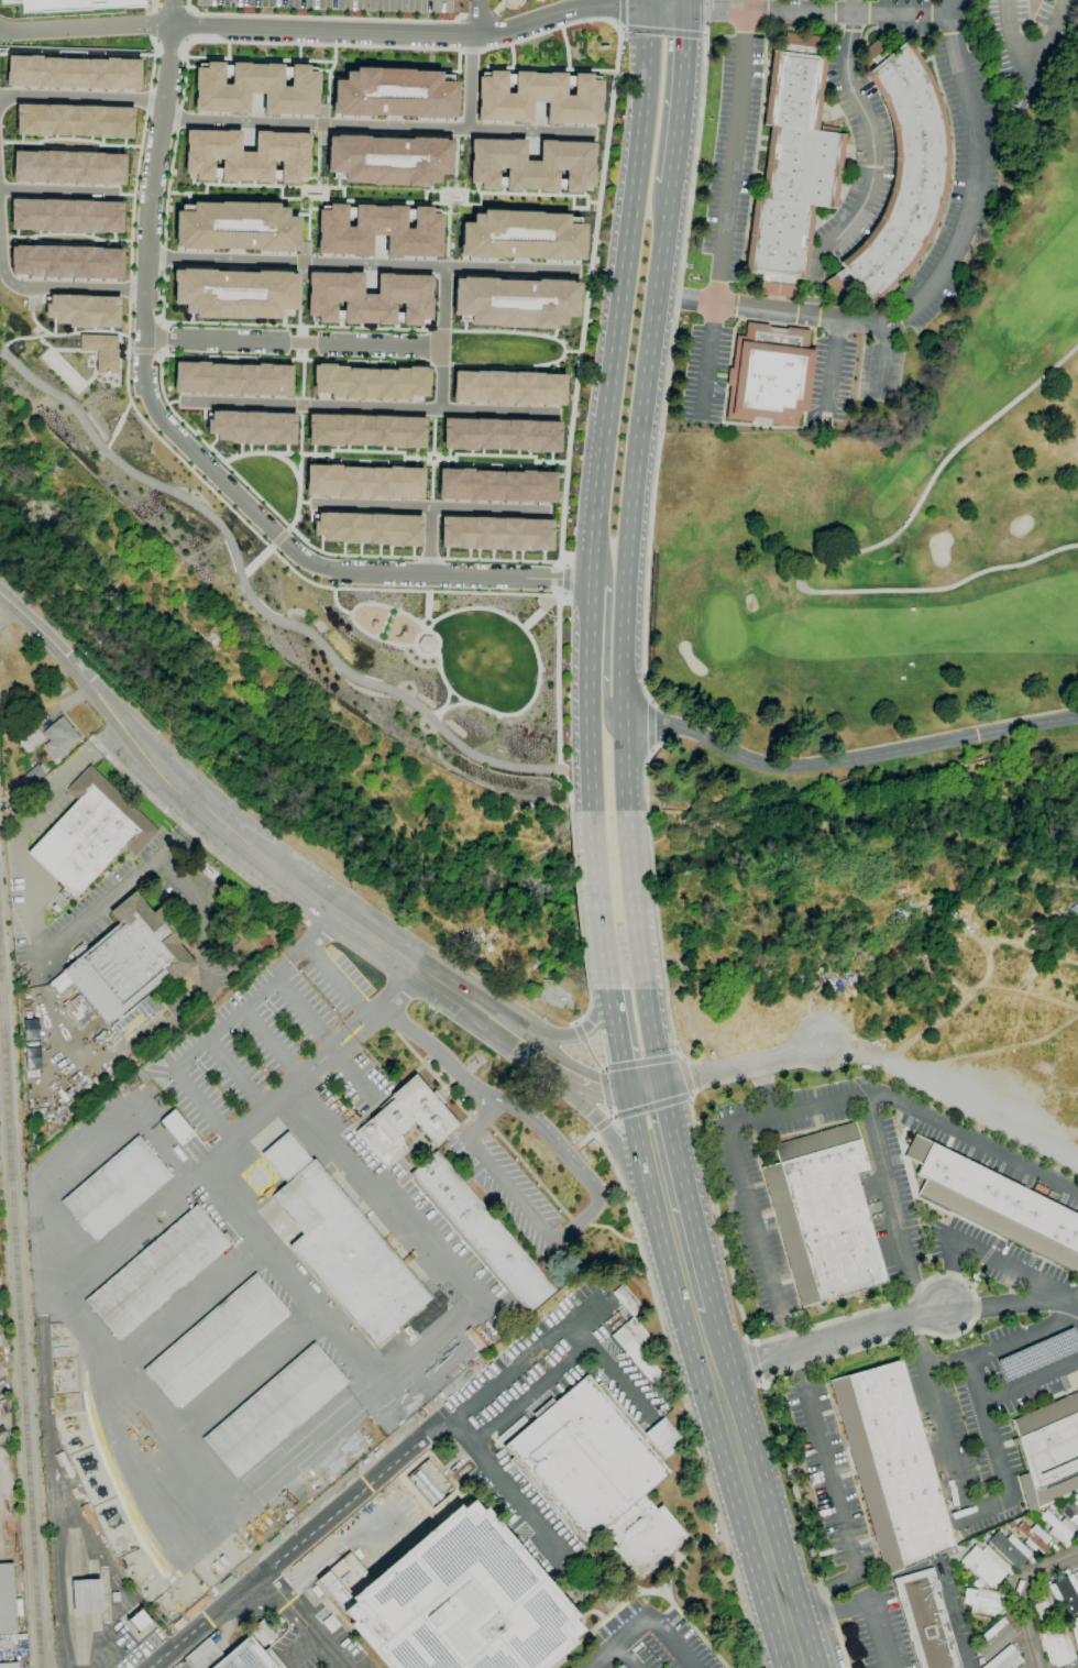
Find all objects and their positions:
road: (645, 2)
parking lot: (335, 3)
building: (76, 4)
traffic signals: (645, 6)
road: (685, 6)
traffic signals: (685, 11)
road: (170, 12)
road: (815, 12)
road: (623, 14)
road: (477, 19)
road: (664, 31)
road: (344, 32)
road: (169, 37)
road: (185, 40)
road: (372, 46)
road: (1033, 51)
road: (152, 63)
building: (71, 73)
road: (470, 81)
building: (254, 87)
road: (679, 91)
building: (393, 92)
building: (537, 96)
road: (81, 97)
road: (145, 100)
road: (177, 118)
building: (73, 121)
road: (376, 124)
building: (244, 156)
building: (386, 160)
road: (872, 163)
building: (529, 165)
building: (66, 166)
building: (792, 167)
building: (901, 176)
parking lot: (864, 182)
road: (255, 185)
road: (166, 187)
road: (58, 191)
road: (507, 193)
road: (124, 194)
road: (132, 194)
road: (378, 200)
road: (729, 205)
building: (64, 216)
building: (234, 226)
building: (377, 229)
building: (520, 235)
road: (162, 257)
building: (64, 261)
road: (361, 264)
road: (5, 277)
road: (933, 283)
road: (78, 286)
road: (128, 288)
building: (234, 293)
road: (619, 294)
building: (367, 298)
building: (514, 301)
building: (82, 310)
road: (159, 322)
road: (268, 325)
road: (298, 330)
road: (438, 330)
road: (440, 338)
road: (291, 341)
road: (299, 342)
road: (156, 350)
road: (562, 350)
road: (580, 350)
building: (100, 351)
road: (129, 351)
road: (571, 351)
road: (671, 351)
road: (158, 353)
road: (883, 353)
road: (300, 354)
road: (437, 363)
road: (833, 364)
building: (770, 375)
building: (231, 377)
building: (369, 381)
building: (507, 386)
park: (834, 395)
road: (165, 402)
road: (365, 406)
road: (117, 426)
building: (252, 427)
building: (364, 430)
building: (499, 435)
road: (191, 451)
building: (363, 481)
building: (494, 484)
road: (632, 494)
road: (429, 506)
road: (287, 528)
building: (367, 528)
building: (494, 534)
road: (227, 536)
park: (893, 536)
road: (278, 537)
road: (428, 541)
road: (267, 547)
road: (827, 555)
road: (428, 558)
road: (255, 560)
road: (562, 561)
road: (565, 579)
park: (321, 588)
road: (335, 604)
road: (427, 606)
road: (351, 611)
road: (497, 612)
road: (587, 640)
road: (438, 641)
building: (427, 644)
road: (557, 702)
road: (443, 709)
road: (606, 710)
road: (436, 713)
road: (506, 714)
road: (588, 722)
road: (653, 723)
building: (30, 737)
building: (59, 737)
road: (847, 759)
building: (33, 775)
road: (646, 778)
road: (590, 780)
building: (91, 833)
road: (199, 841)
road: (256, 848)
river: (461, 885)
road: (596, 893)
road: (654, 899)
road: (579, 902)
road: (636, 904)
road: (201, 913)
road: (36, 919)
building: (78, 951)
building: (131, 957)
road: (324, 963)
parking lot: (337, 981)
road: (607, 981)
building: (59, 983)
road: (584, 1014)
road: (224, 1025)
road: (577, 1031)
road: (673, 1031)
road: (571, 1034)
road: (651, 1034)
road: (618, 1039)
road: (272, 1044)
road: (432, 1046)
road: (328, 1054)
road: (591, 1054)
building: (31, 1057)
parking lot: (265, 1060)
road: (642, 1064)
road: (739, 1065)
road: (239, 1073)
road: (686, 1077)
traffic signals: (656, 1079)
traffic signals: (629, 1085)
road: (599, 1087)
road: (606, 1093)
road: (950, 1104)
road: (651, 1109)
road: (658, 1112)
road: (636, 1117)
building: (405, 1122)
road: (482, 1122)
road: (602, 1126)
building: (177, 1128)
road: (609, 1132)
road: (972, 1137)
road: (581, 1143)
road: (92, 1152)
parking lot: (975, 1156)
road: (529, 1173)
road: (596, 1186)
parking lot: (506, 1187)
parking lot: (903, 1187)
building: (116, 1188)
building: (997, 1205)
road: (748, 1207)
road: (676, 1209)
parking lot: (426, 1211)
building: (823, 1214)
road: (579, 1222)
building: (482, 1232)
road: (614, 1232)
parking lot: (880, 1237)
parking lot: (759, 1238)
parking lot: (934, 1239)
building: (342, 1245)
parking lot: (1011, 1251)
road: (982, 1254)
building: (157, 1272)
parking lot: (998, 1275)
road: (924, 1285)
building: (627, 1299)
road: (1013, 1302)
road: (1074, 1305)
railway: (20, 1321)
parking lot: (1000, 1331)
road: (829, 1334)
road: (89, 1340)
building: (216, 1341)
building: (637, 1347)
road: (418, 1353)
parking lot: (1036, 1354)
building: (1037, 1354)
road: (944, 1363)
road: (254, 1365)
parking lot: (552, 1372)
road: (612, 1372)
road: (1028, 1380)
building: (1077, 1387)
parking lot: (1036, 1394)
road: (683, 1397)
road: (520, 1400)
building: (275, 1411)
road: (316, 1438)
parking lot: (964, 1447)
building: (1048, 1452)
building: (891, 1466)
building: (601, 1472)
road: (747, 1473)
parking lot: (829, 1475)
road: (369, 1482)
building: (427, 1484)
road: (53, 1494)
road: (1003, 1496)
road: (516, 1499)
building: (1071, 1511)
parking lot: (522, 1514)
building: (1060, 1529)
building: (1034, 1538)
building: (1010, 1549)
building: (986, 1565)
building: (1076, 1576)
building: (1065, 1592)
road: (1015, 1593)
building: (86, 1595)
building: (114, 1596)
building: (7, 1600)
building: (455, 1601)
building: (985, 1601)
road: (864, 1604)
building: (1044, 1607)
building: (926, 1620)
building: (139, 1621)
road: (300, 1621)
parking lot: (879, 1627)
building: (1075, 1634)
road: (958, 1637)
building: (994, 1638)
road: (621, 1640)
road: (300, 1642)
parking lot: (648, 1642)
road: (672, 1642)
parking lot: (319, 1644)
building: (1057, 1645)
building: (231, 1656)
road: (626, 1657)
building: (1004, 1659)
building: (9, 1665)
building: (620, 1667)

